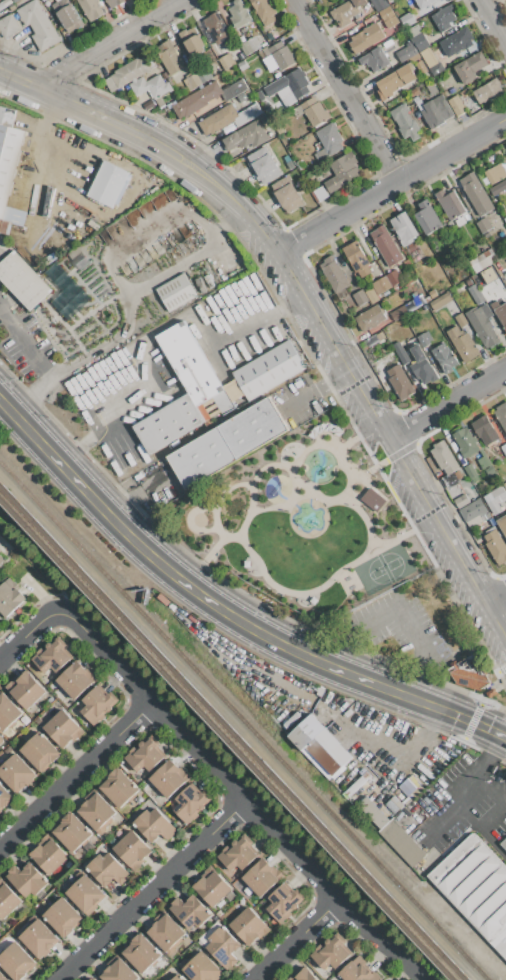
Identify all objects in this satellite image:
building: (14, 0)
building: (43, 0)
building: (56, 0)
building: (342, 0)
building: (438, 0)
building: (4, 3)
building: (113, 3)
building: (423, 3)
building: (379, 4)
building: (397, 5)
building: (12, 7)
building: (90, 9)
building: (264, 11)
building: (346, 11)
building: (239, 14)
building: (388, 16)
building: (69, 18)
building: (443, 18)
building: (407, 19)
road: (494, 19)
building: (39, 24)
building: (8, 25)
building: (217, 28)
building: (365, 38)
building: (191, 41)
building: (456, 41)
road: (108, 43)
building: (394, 45)
building: (421, 45)
building: (250, 46)
building: (404, 53)
building: (170, 57)
building: (277, 57)
building: (375, 60)
building: (226, 61)
building: (242, 65)
building: (470, 67)
building: (435, 69)
building: (138, 79)
building: (396, 80)
building: (190, 82)
building: (287, 88)
building: (432, 88)
road: (344, 90)
building: (488, 91)
building: (173, 95)
building: (207, 97)
building: (458, 105)
building: (315, 111)
building: (436, 111)
road: (90, 113)
building: (7, 116)
building: (228, 117)
building: (405, 123)
building: (247, 136)
building: (329, 139)
building: (505, 145)
building: (264, 166)
building: (8, 167)
building: (342, 172)
building: (495, 174)
road: (211, 181)
building: (108, 184)
road: (392, 184)
building: (498, 188)
building: (319, 194)
building: (476, 194)
building: (286, 195)
building: (450, 204)
building: (427, 217)
building: (505, 219)
building: (483, 225)
building: (404, 228)
building: (486, 234)
road: (148, 236)
building: (386, 246)
building: (414, 253)
building: (357, 258)
building: (481, 261)
building: (334, 273)
building: (394, 277)
building: (478, 278)
building: (23, 280)
building: (381, 284)
building: (499, 287)
building: (176, 292)
building: (433, 294)
building: (371, 295)
building: (475, 295)
building: (360, 297)
building: (441, 301)
building: (408, 306)
road: (128, 310)
building: (501, 314)
road: (269, 315)
road: (178, 317)
building: (369, 318)
building: (461, 319)
road: (319, 320)
building: (482, 324)
building: (424, 338)
road: (21, 339)
building: (462, 342)
building: (400, 352)
building: (444, 357)
building: (190, 362)
building: (421, 365)
building: (269, 370)
road: (49, 373)
building: (399, 382)
building: (223, 401)
road: (447, 403)
road: (85, 405)
building: (501, 415)
building: (168, 422)
building: (254, 427)
building: (484, 429)
road: (351, 442)
building: (472, 448)
building: (503, 449)
building: (202, 457)
building: (443, 457)
road: (330, 468)
building: (471, 472)
railway: (21, 484)
building: (495, 498)
building: (372, 499)
park: (227, 501)
building: (461, 501)
road: (429, 507)
building: (474, 512)
park: (301, 524)
building: (502, 524)
building: (496, 546)
building: (1, 561)
road: (189, 584)
road: (496, 598)
building: (9, 599)
road: (487, 607)
road: (398, 612)
parking lot: (398, 628)
road: (29, 636)
building: (51, 657)
building: (469, 679)
building: (73, 680)
building: (25, 689)
building: (491, 692)
building: (96, 705)
building: (7, 712)
road: (462, 718)
building: (61, 728)
railway: (234, 732)
road: (501, 736)
railway: (227, 738)
building: (0, 739)
railway: (266, 743)
building: (318, 745)
building: (40, 751)
building: (144, 756)
road: (489, 759)
road: (75, 771)
building: (16, 772)
building: (167, 778)
building: (118, 787)
building: (4, 797)
road: (242, 799)
road: (465, 799)
building: (189, 804)
building: (97, 812)
building: (154, 825)
building: (72, 832)
road: (482, 832)
building: (401, 843)
building: (502, 844)
building: (132, 849)
building: (237, 855)
building: (49, 856)
building: (107, 869)
building: (260, 877)
building: (27, 879)
building: (211, 886)
road: (150, 890)
building: (474, 890)
building: (85, 893)
building: (7, 900)
building: (283, 903)
building: (190, 911)
building: (62, 916)
building: (249, 926)
building: (166, 932)
building: (38, 937)
road: (299, 940)
building: (223, 946)
building: (141, 952)
building: (331, 953)
building: (16, 961)
building: (200, 967)
building: (118, 970)
building: (357, 971)
building: (304, 975)
building: (3, 977)
building: (177, 977)
building: (91, 979)
building: (94, 979)
building: (387, 979)

